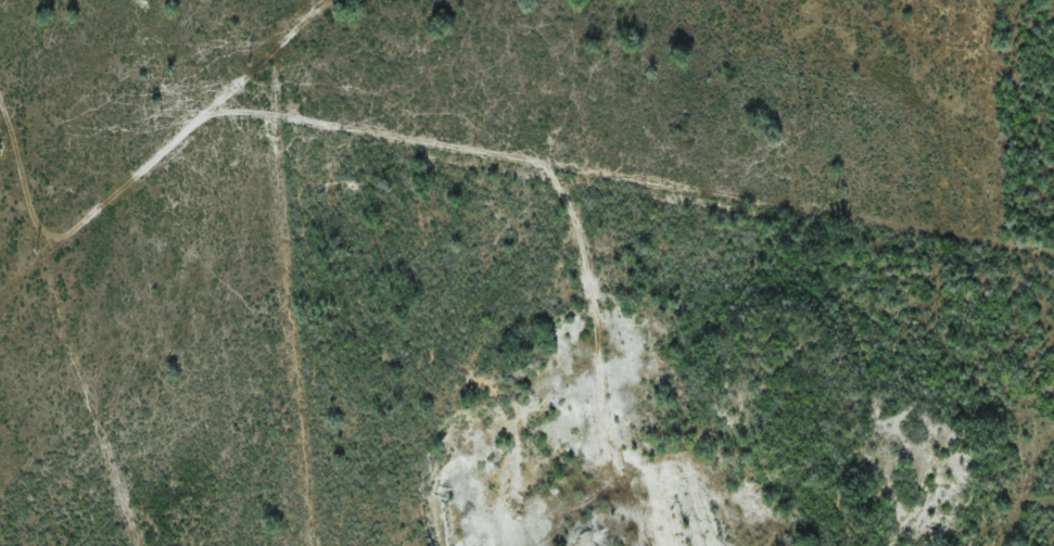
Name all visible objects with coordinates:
road: (168, 151)

